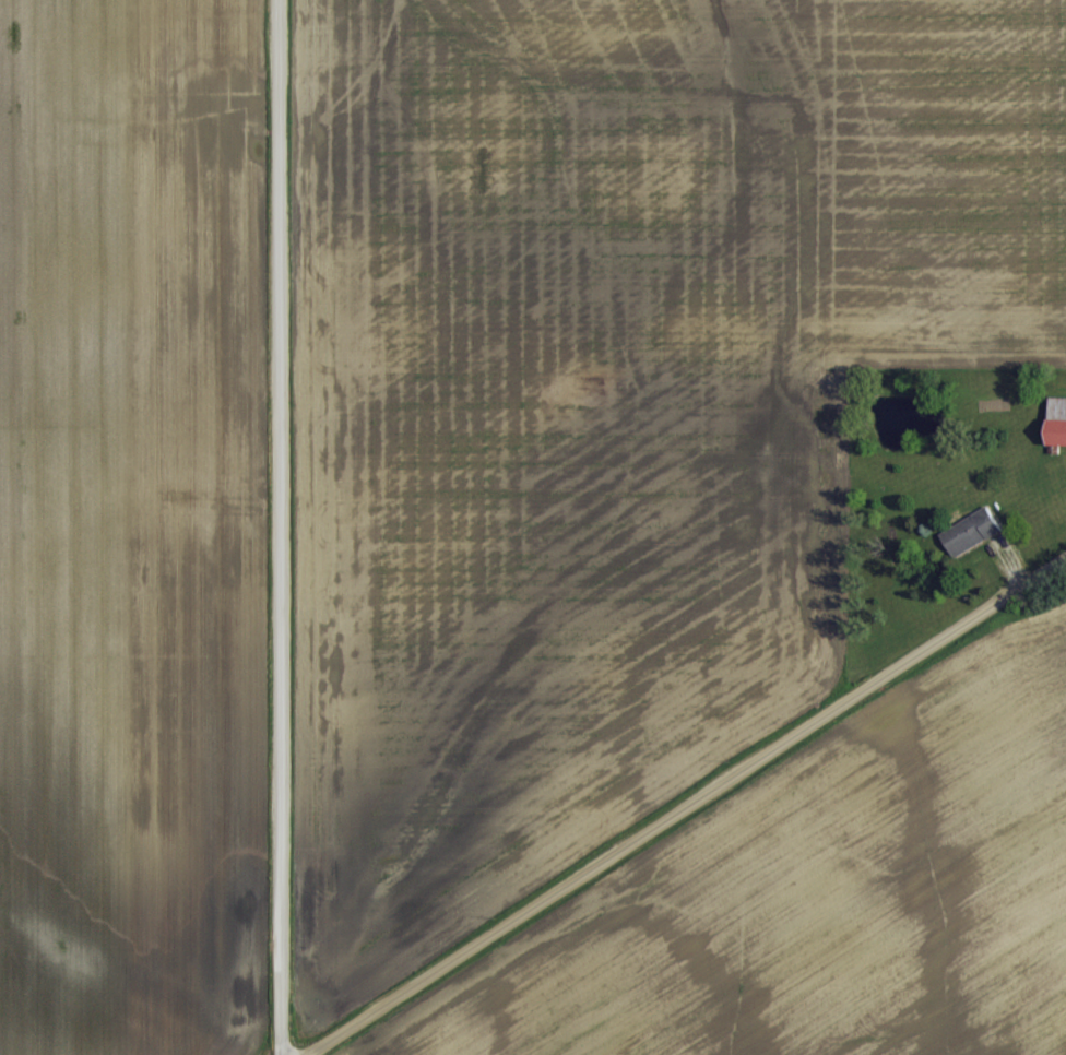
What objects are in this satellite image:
building: (1054, 418)
road: (279, 526)
building: (967, 529)
road: (685, 803)

